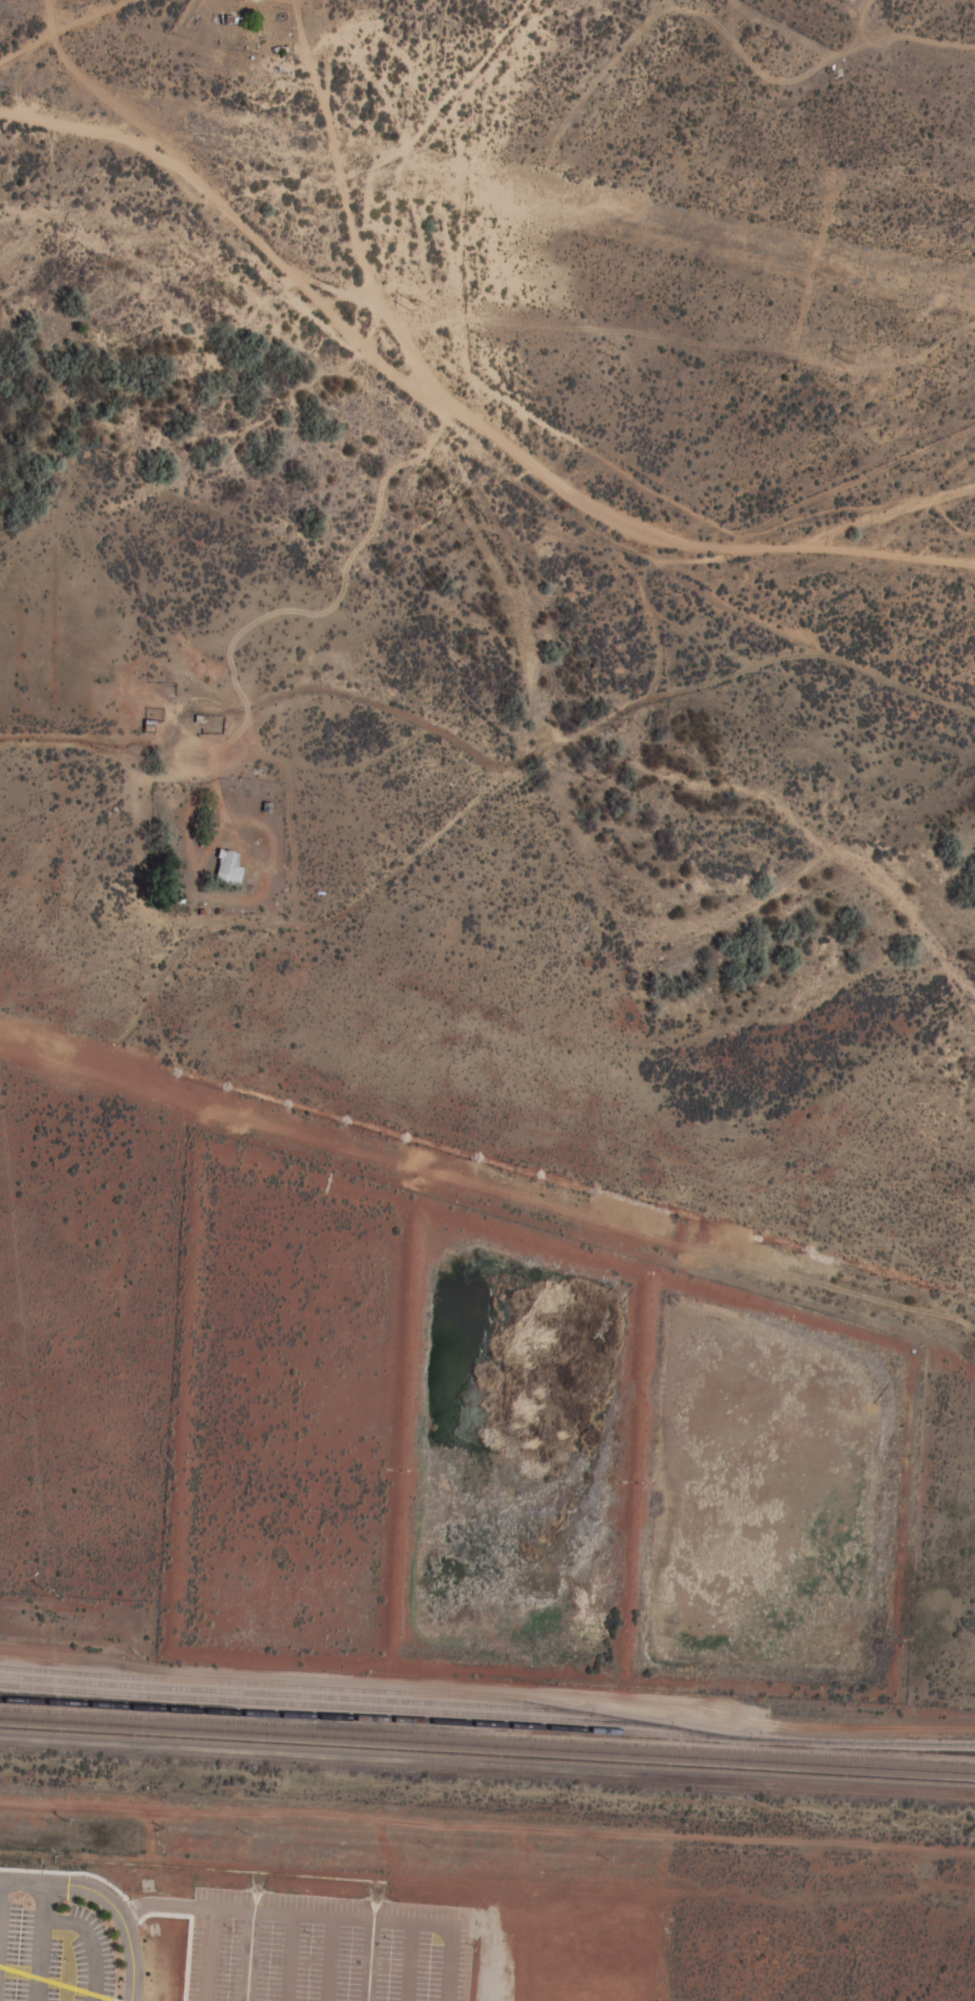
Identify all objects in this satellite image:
power tower: (406, 303)
road: (314, 304)
power tower: (847, 357)
road: (794, 549)
river: (524, 642)
building: (208, 725)
building: (228, 868)
road: (485, 1188)
railway: (290, 1685)
railway: (325, 1706)
railway: (488, 1706)
railway: (360, 1719)
railway: (487, 1736)
railway: (487, 1745)
railway: (487, 1756)
road: (0, 1888)
road: (104, 1899)
road: (167, 1912)
road: (338, 1925)
road: (41, 1942)
road: (90, 1943)
parking lot: (325, 1948)
parking lot: (53, 1951)
road: (214, 1958)
road: (258, 1960)
road: (298, 1962)
road: (339, 1963)
road: (378, 1965)
road: (419, 1967)
road: (457, 1968)

